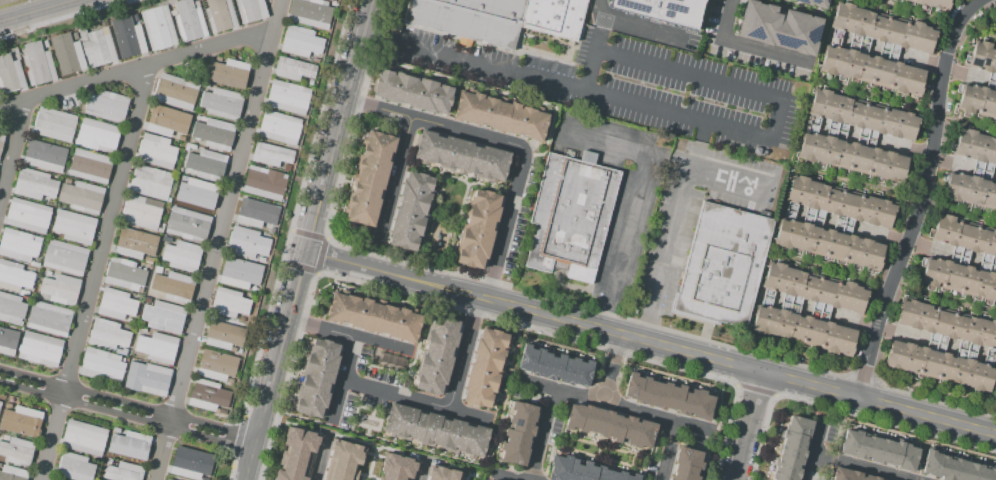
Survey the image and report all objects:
building: (332, 0)
building: (809, 3)
building: (932, 4)
building: (660, 9)
building: (250, 10)
road: (43, 12)
building: (310, 13)
road: (732, 13)
building: (219, 15)
building: (135, 16)
building: (553, 17)
building: (468, 19)
building: (188, 21)
road: (633, 26)
building: (995, 26)
building: (158, 27)
building: (776, 27)
building: (883, 28)
building: (75, 36)
building: (126, 37)
building: (300, 41)
building: (45, 43)
building: (97, 45)
road: (358, 51)
building: (67, 54)
building: (982, 57)
building: (218, 59)
building: (315, 60)
road: (474, 62)
building: (36, 63)
road: (137, 69)
building: (293, 69)
building: (872, 71)
building: (227, 73)
building: (10, 74)
building: (995, 81)
building: (175, 92)
building: (412, 92)
building: (288, 97)
building: (976, 101)
road: (772, 102)
building: (222, 104)
building: (106, 106)
building: (863, 115)
building: (502, 116)
building: (164, 121)
building: (54, 125)
building: (279, 128)
building: (214, 134)
building: (97, 136)
building: (1, 140)
road: (510, 144)
building: (190, 146)
building: (975, 147)
road: (14, 152)
building: (156, 152)
building: (44, 155)
building: (271, 155)
building: (461, 156)
building: (852, 157)
building: (206, 164)
building: (89, 166)
building: (286, 168)
road: (686, 173)
road: (643, 176)
road: (324, 177)
building: (370, 178)
building: (67, 180)
building: (150, 182)
building: (264, 183)
road: (392, 183)
building: (35, 184)
building: (970, 190)
building: (197, 195)
road: (923, 195)
building: (82, 197)
building: (49, 201)
building: (840, 202)
road: (296, 208)
building: (411, 211)
building: (141, 213)
building: (256, 213)
building: (27, 216)
building: (569, 217)
building: (188, 224)
building: (74, 227)
building: (479, 229)
building: (963, 236)
building: (163, 238)
building: (169, 239)
road: (218, 239)
building: (135, 243)
building: (247, 243)
building: (828, 244)
building: (19, 245)
road: (320, 255)
building: (181, 256)
building: (65, 258)
building: (148, 260)
building: (722, 265)
road: (94, 273)
building: (237, 273)
building: (124, 274)
building: (15, 276)
building: (959, 279)
building: (173, 286)
flagpole: (330, 286)
building: (58, 288)
building: (815, 288)
flagpole: (324, 289)
flagpole: (319, 293)
road: (652, 301)
building: (228, 303)
building: (115, 304)
road: (607, 308)
building: (12, 309)
road: (537, 312)
building: (163, 317)
building: (374, 318)
building: (49, 319)
building: (947, 323)
building: (804, 330)
building: (108, 335)
building: (224, 336)
road: (351, 336)
building: (8, 341)
building: (157, 347)
building: (40, 349)
road: (462, 352)
building: (437, 355)
building: (216, 365)
road: (274, 365)
building: (102, 366)
building: (554, 366)
building: (939, 367)
road: (613, 368)
building: (485, 369)
building: (317, 378)
building: (147, 379)
road: (338, 379)
building: (115, 387)
parking lot: (995, 394)
building: (207, 395)
building: (668, 397)
road: (417, 400)
road: (931, 400)
building: (0, 402)
road: (882, 403)
road: (614, 404)
road: (127, 409)
building: (21, 422)
building: (610, 426)
road: (754, 427)
building: (435, 431)
building: (518, 434)
road: (542, 434)
building: (83, 437)
road: (237, 440)
building: (129, 443)
building: (791, 449)
road: (814, 449)
road: (660, 450)
building: (17, 451)
building: (878, 451)
building: (296, 455)
road: (322, 455)
building: (344, 461)
building: (190, 463)
building: (686, 464)
building: (75, 467)
road: (423, 467)
road: (856, 467)
building: (397, 468)
building: (954, 468)
building: (583, 471)
building: (123, 472)
building: (12, 473)
building: (444, 474)
building: (849, 475)
building: (49, 479)
building: (52, 479)
building: (168, 479)

